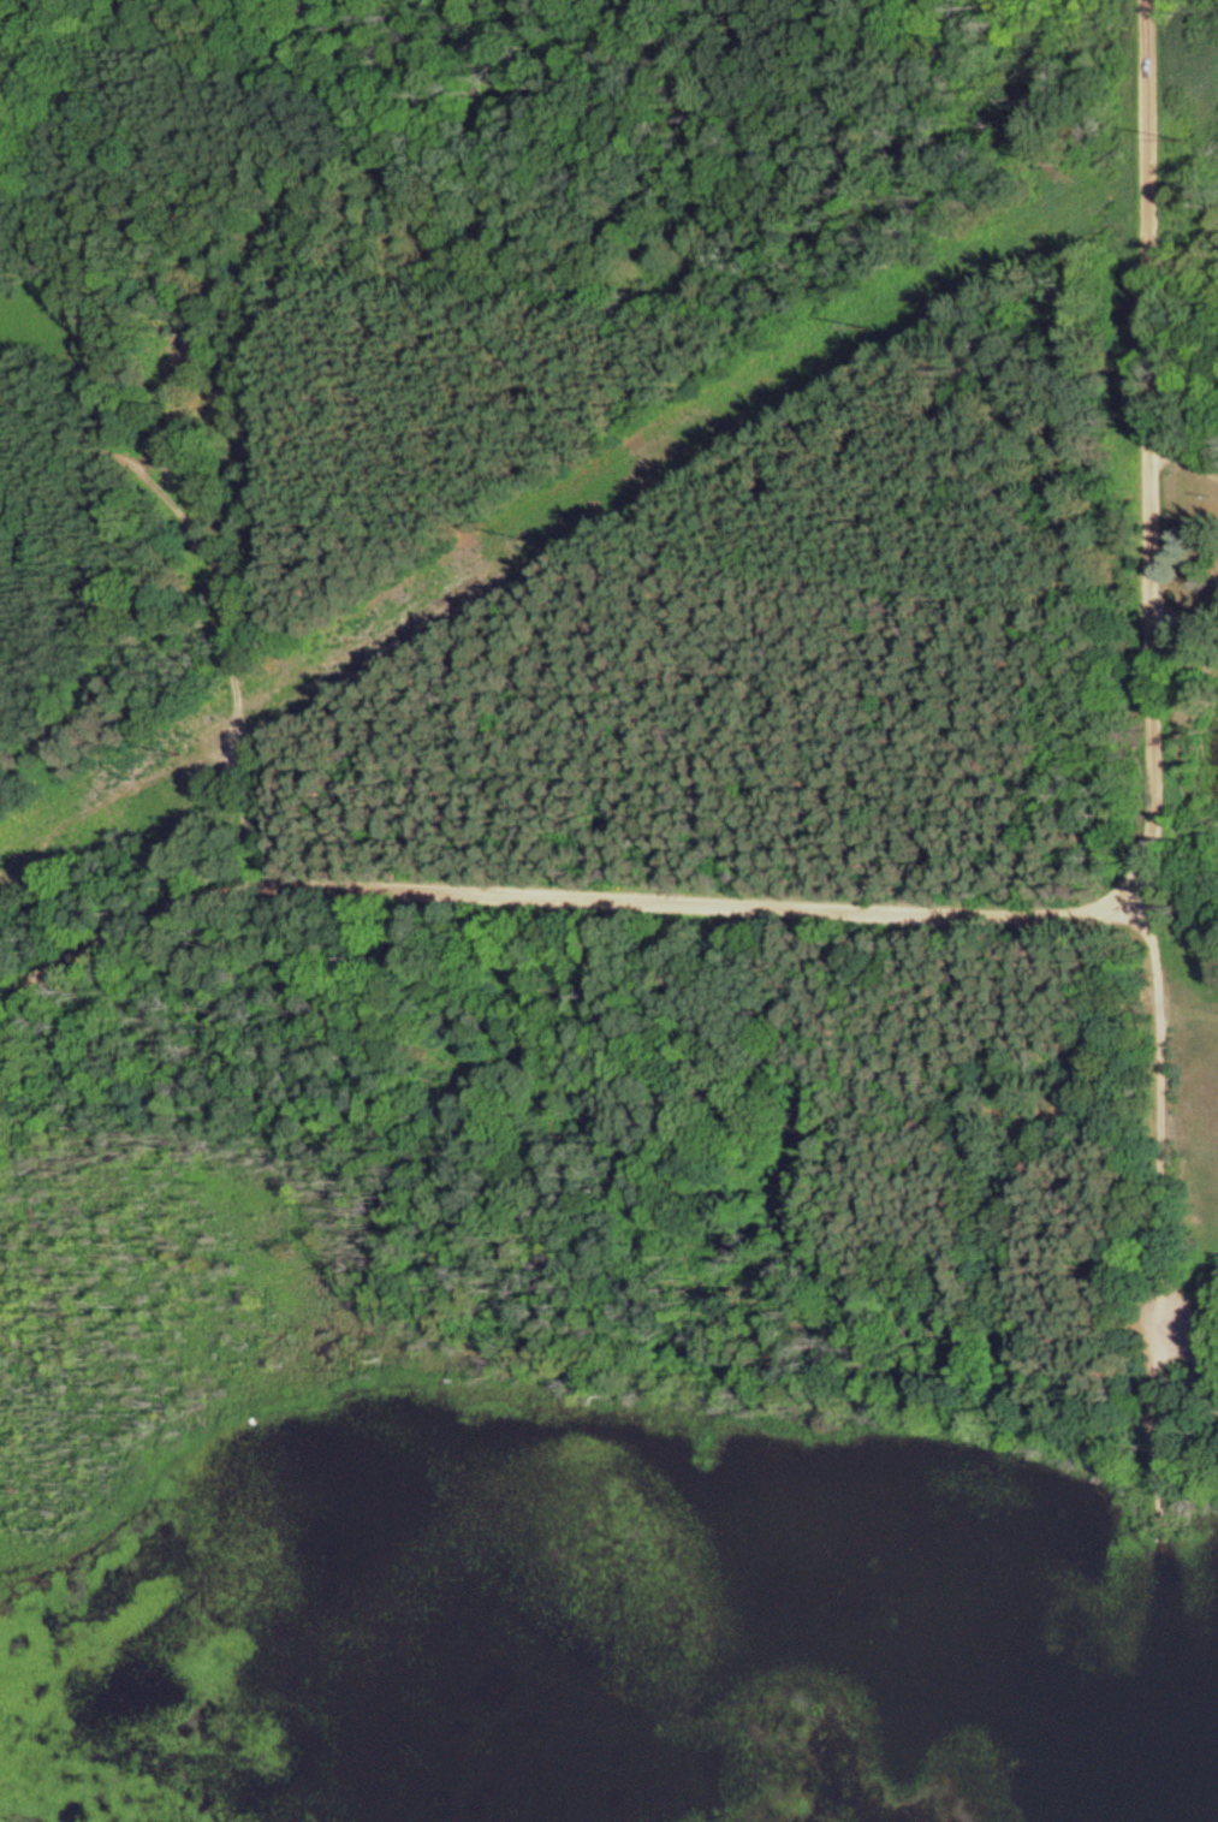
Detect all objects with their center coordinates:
road: (1177, 433)
road: (207, 607)
road: (1142, 657)
road: (717, 900)
road: (133, 934)

